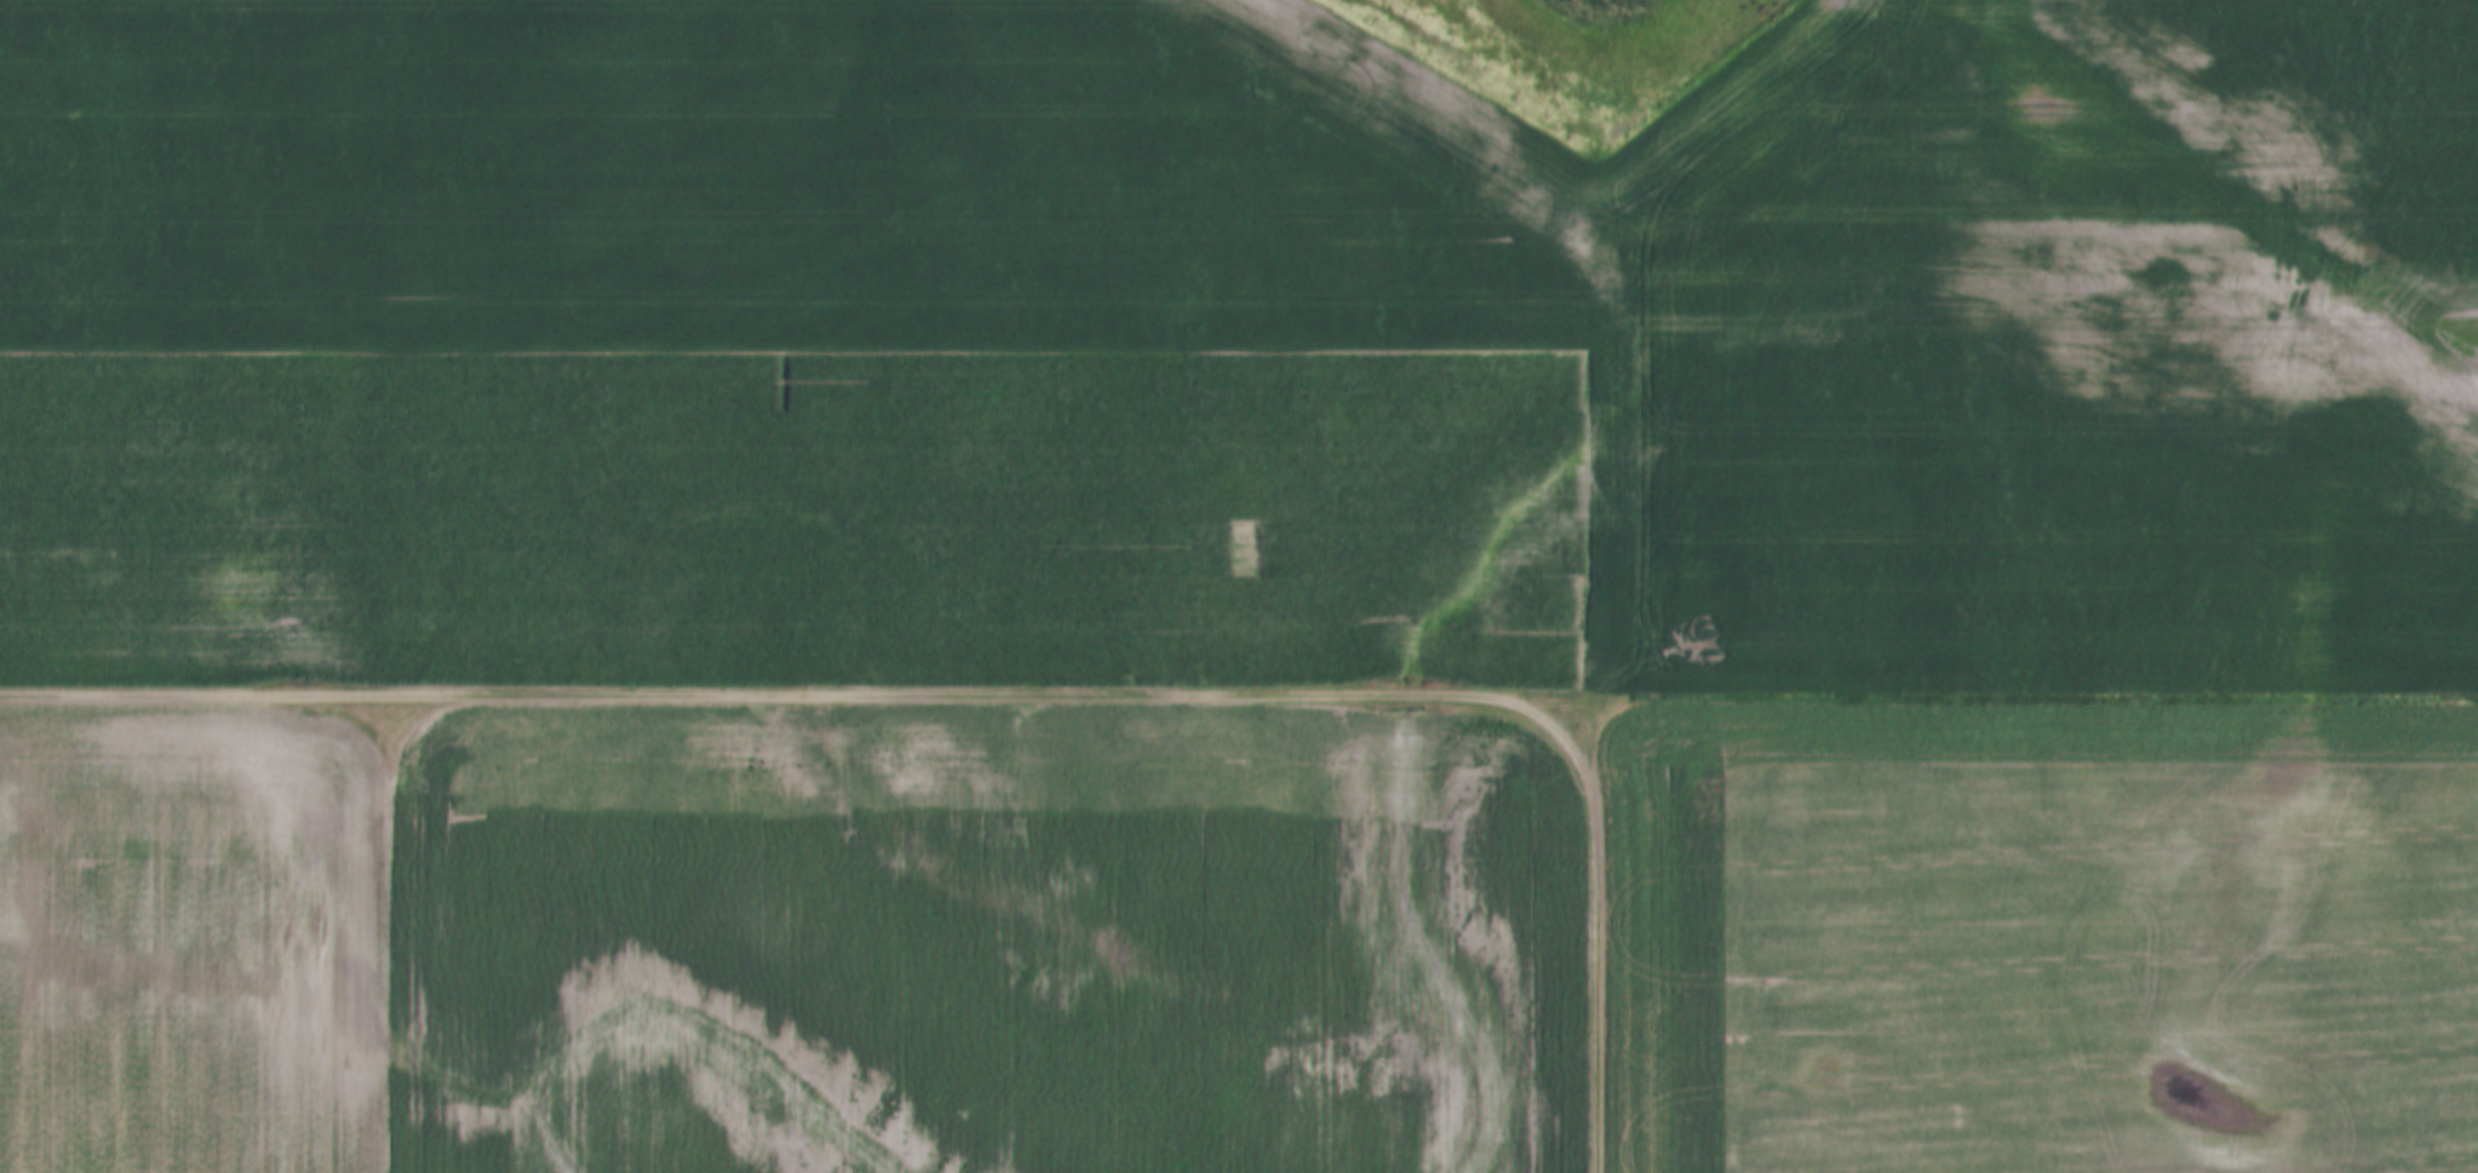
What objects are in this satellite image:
road: (1239, 692)
road: (1601, 935)

